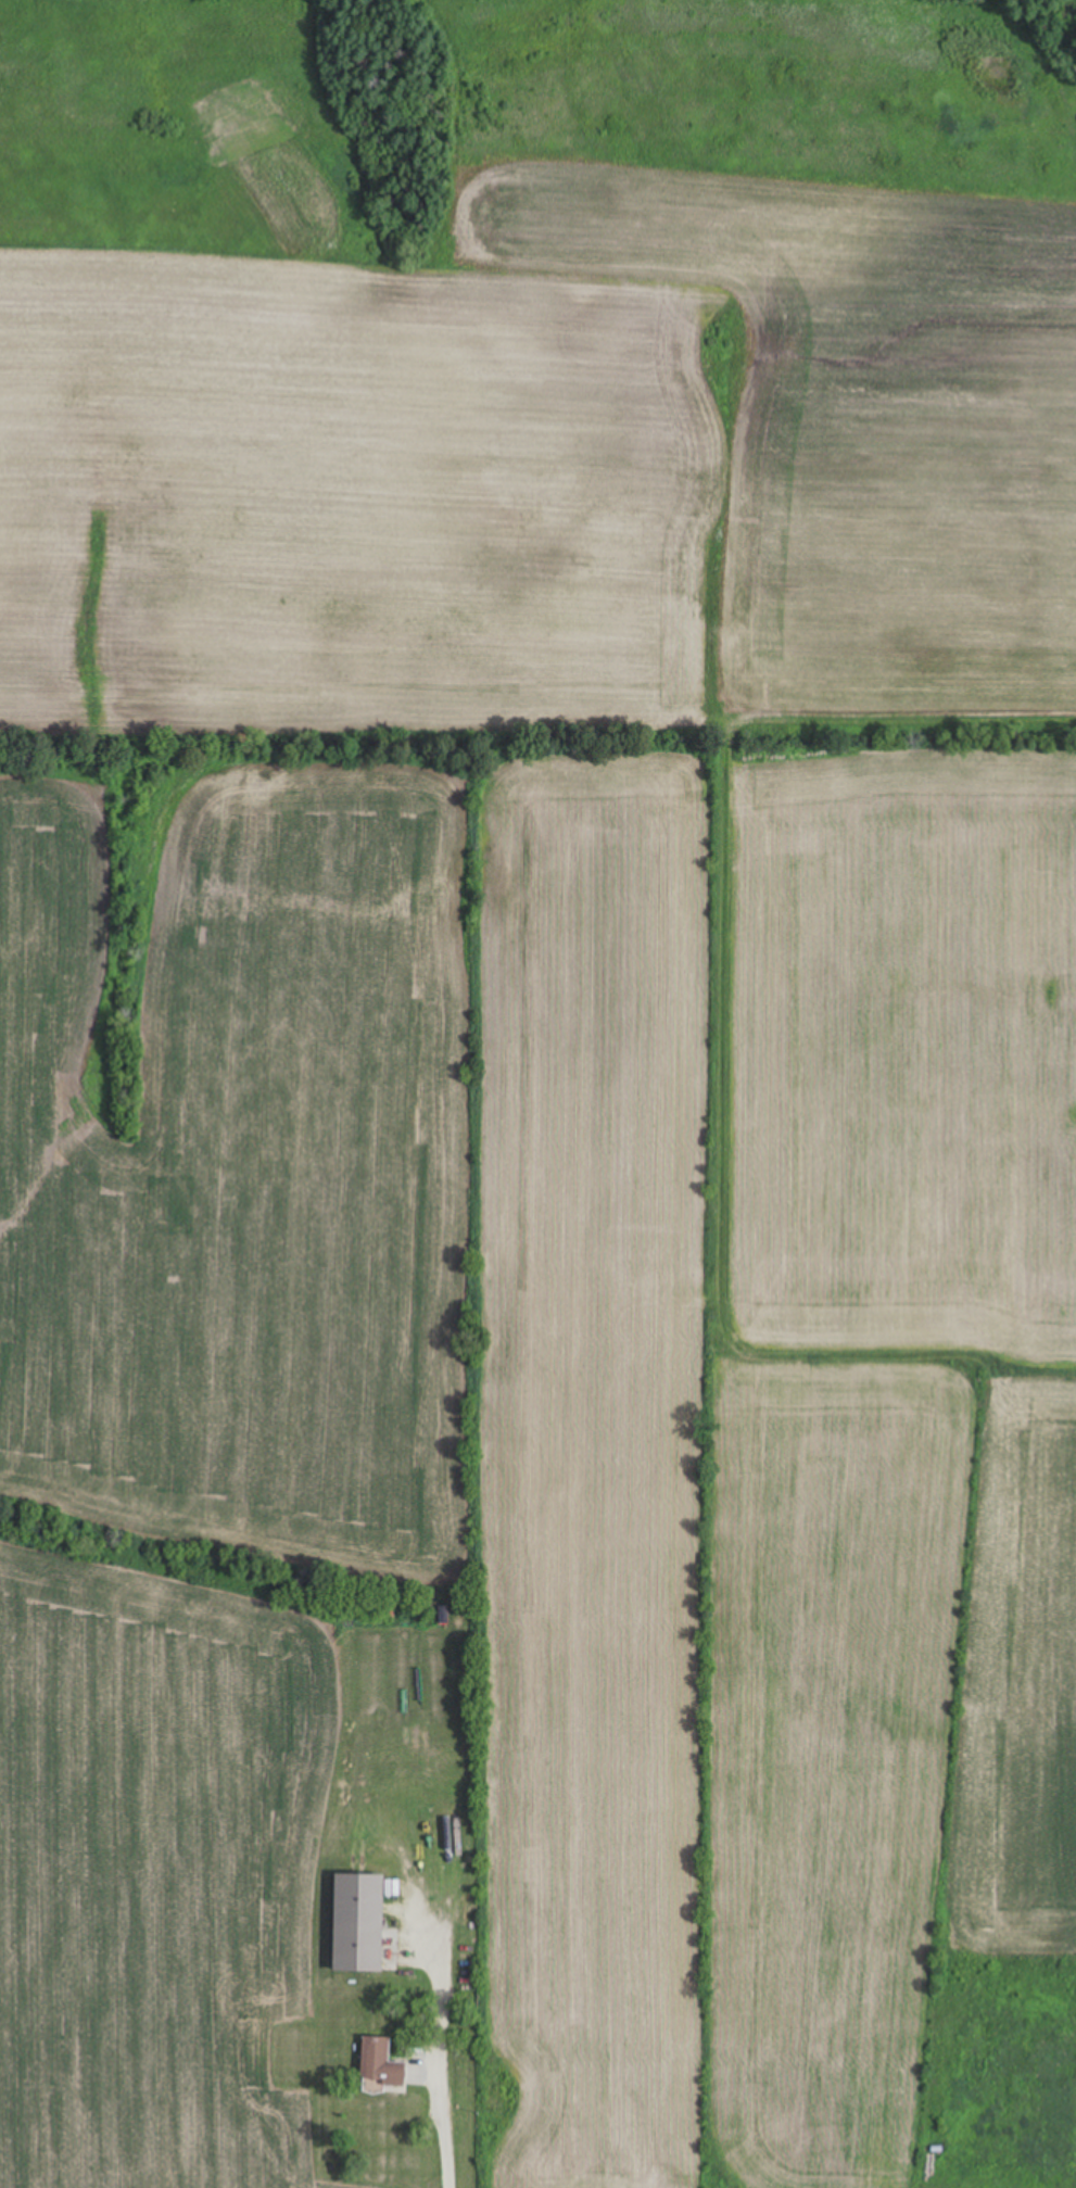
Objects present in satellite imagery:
building: (356, 1922)
building: (378, 2062)

